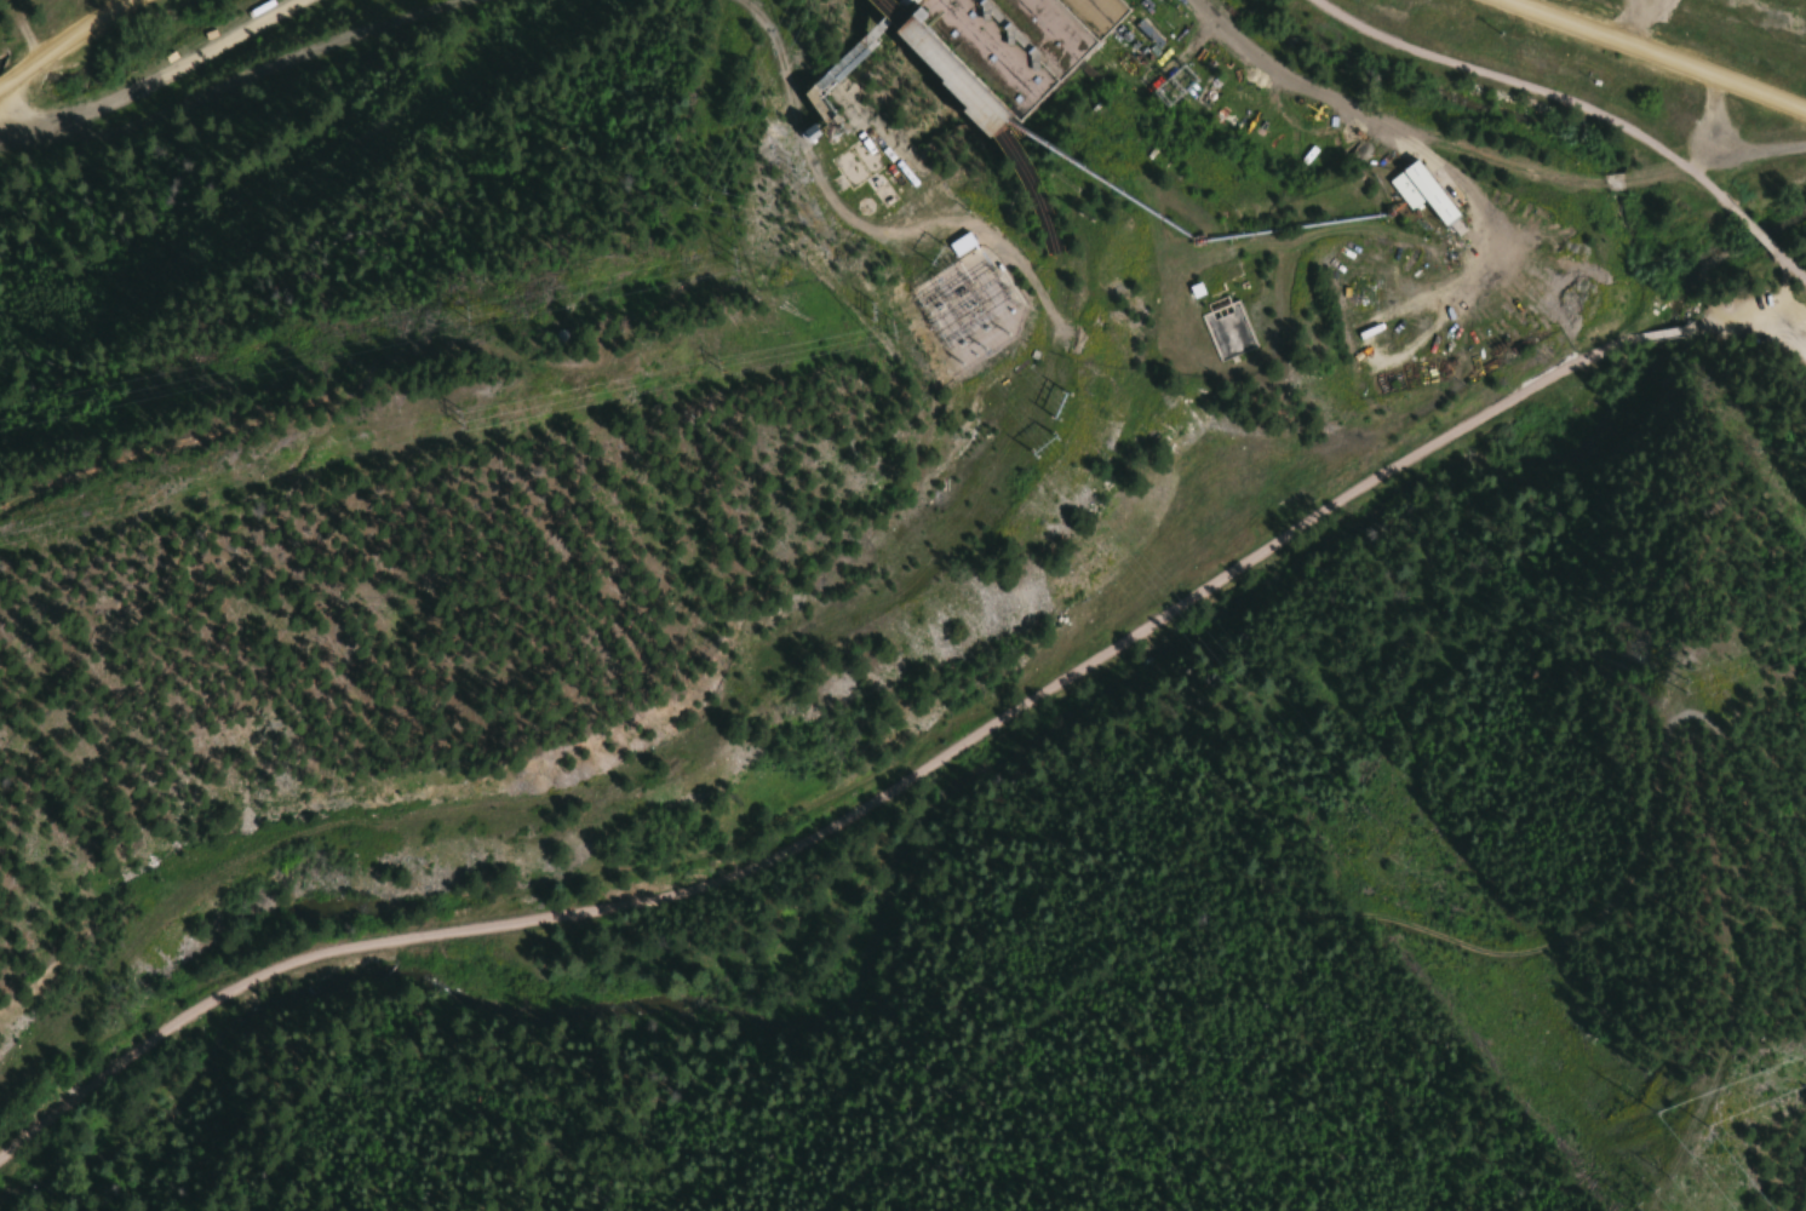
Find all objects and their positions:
building: (1017, 44)
road: (68, 48)
road: (1656, 58)
road: (1531, 94)
road: (1760, 149)
building: (853, 159)
building: (1420, 190)
road: (1751, 226)
building: (957, 243)
road: (1791, 260)
power substation: (969, 305)
parking lot: (1789, 310)
road: (1798, 323)
power tower: (889, 325)
building: (1221, 327)
road: (1664, 332)
road: (1754, 332)
power tower: (703, 360)
power tower: (440, 414)
power tower: (1037, 443)
road: (841, 819)
power tower: (1647, 1192)

